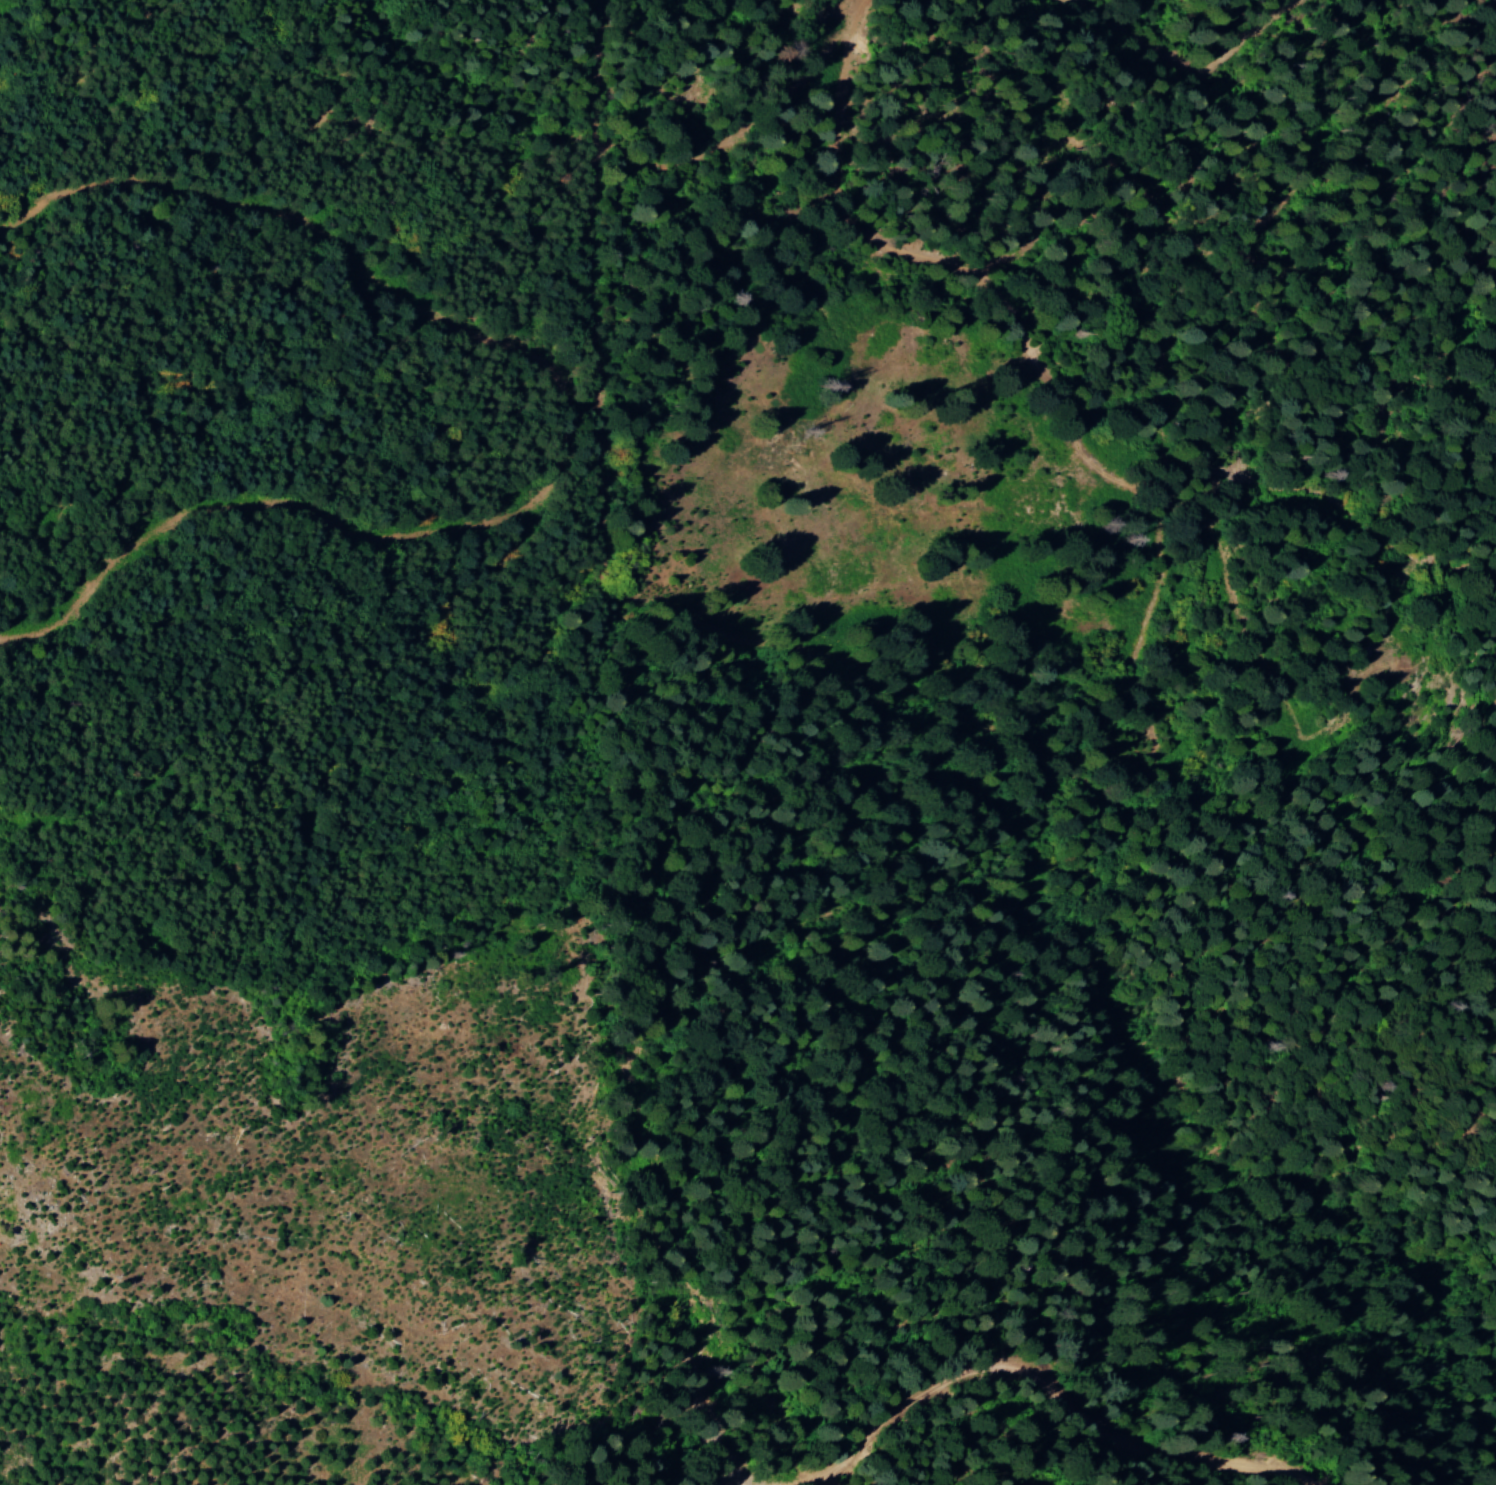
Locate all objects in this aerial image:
road: (583, 101)
road: (1030, 1385)

